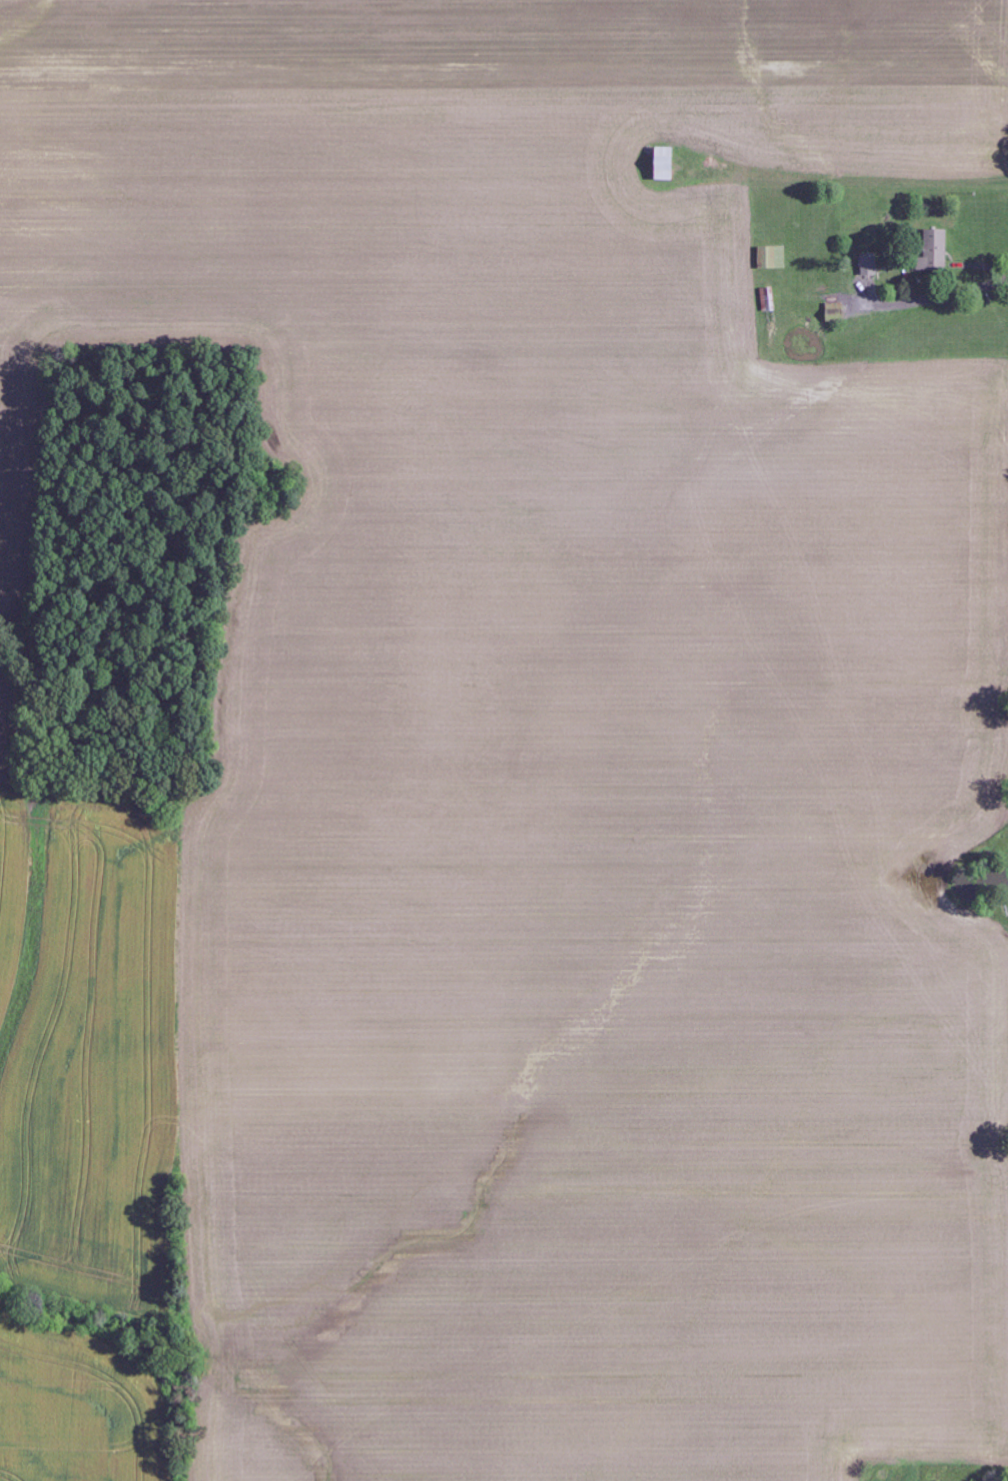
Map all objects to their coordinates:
building: (667, 164)
building: (936, 249)
building: (772, 258)
building: (869, 265)
building: (768, 299)

